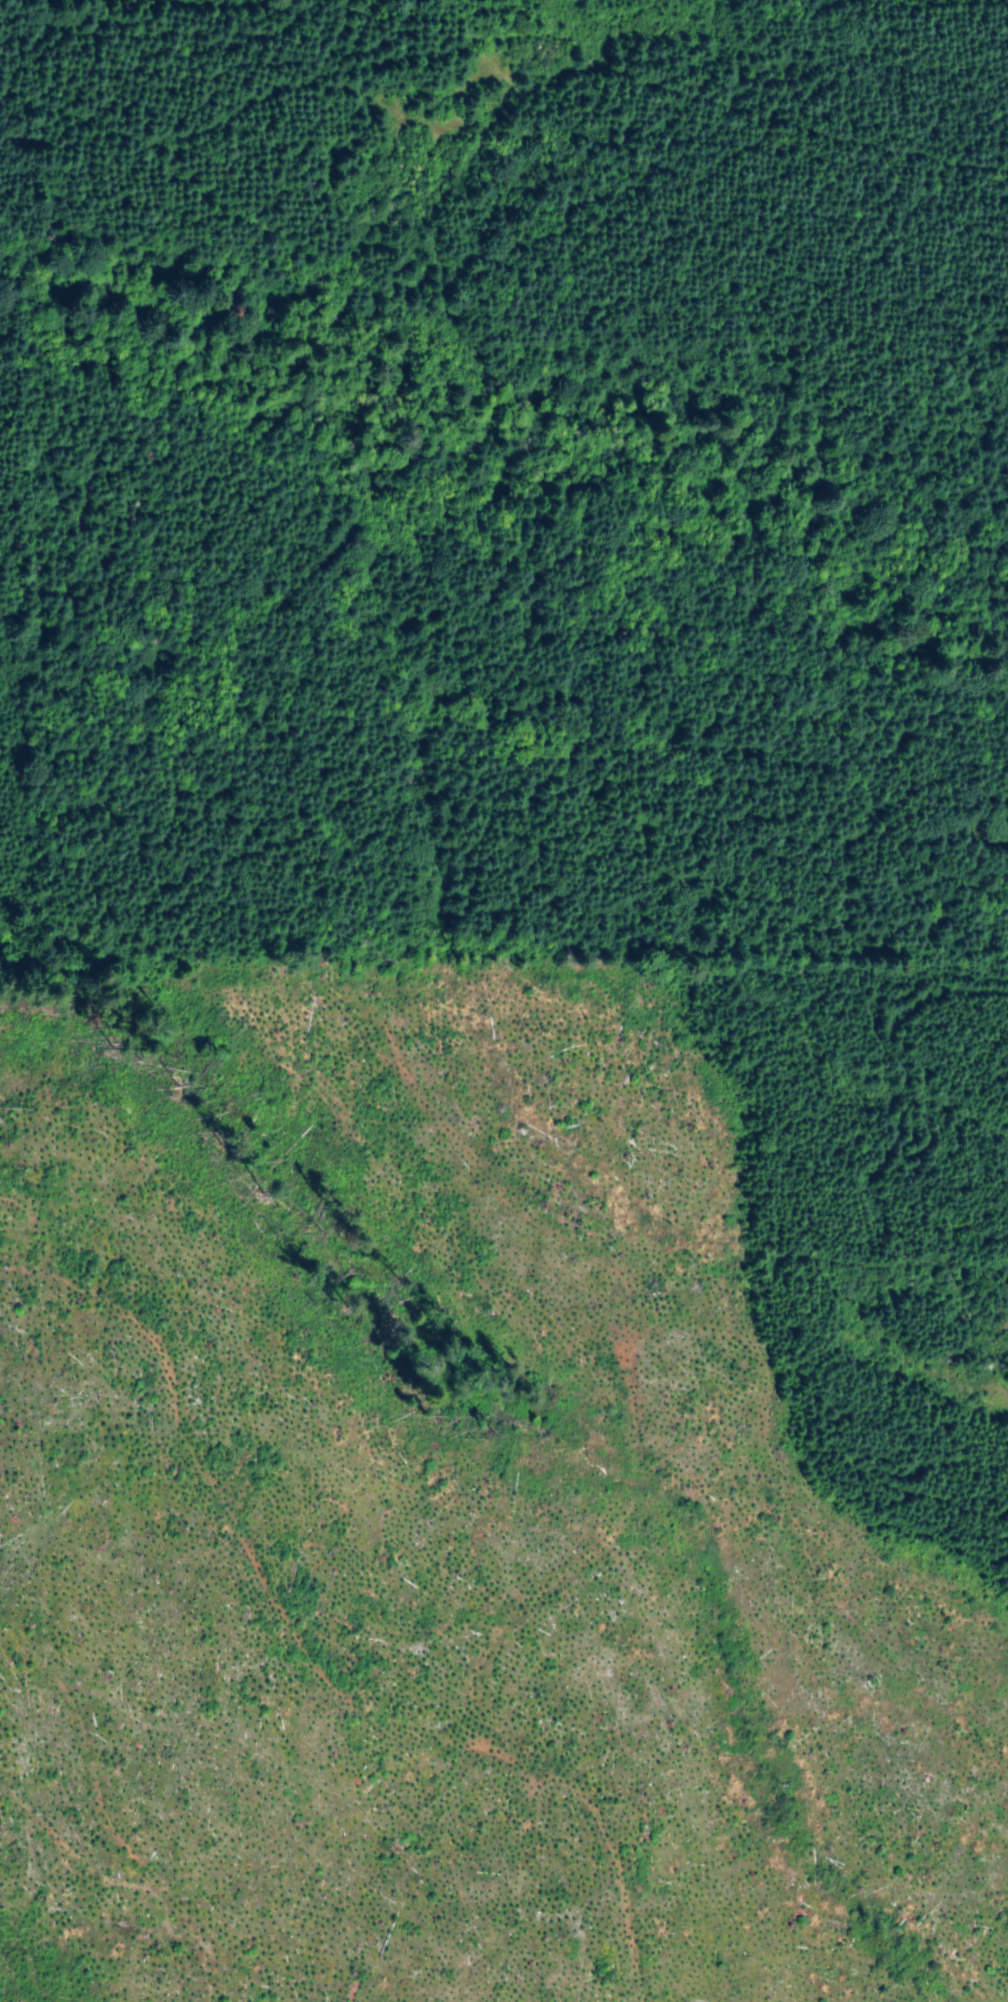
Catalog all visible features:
road: (316, 737)

